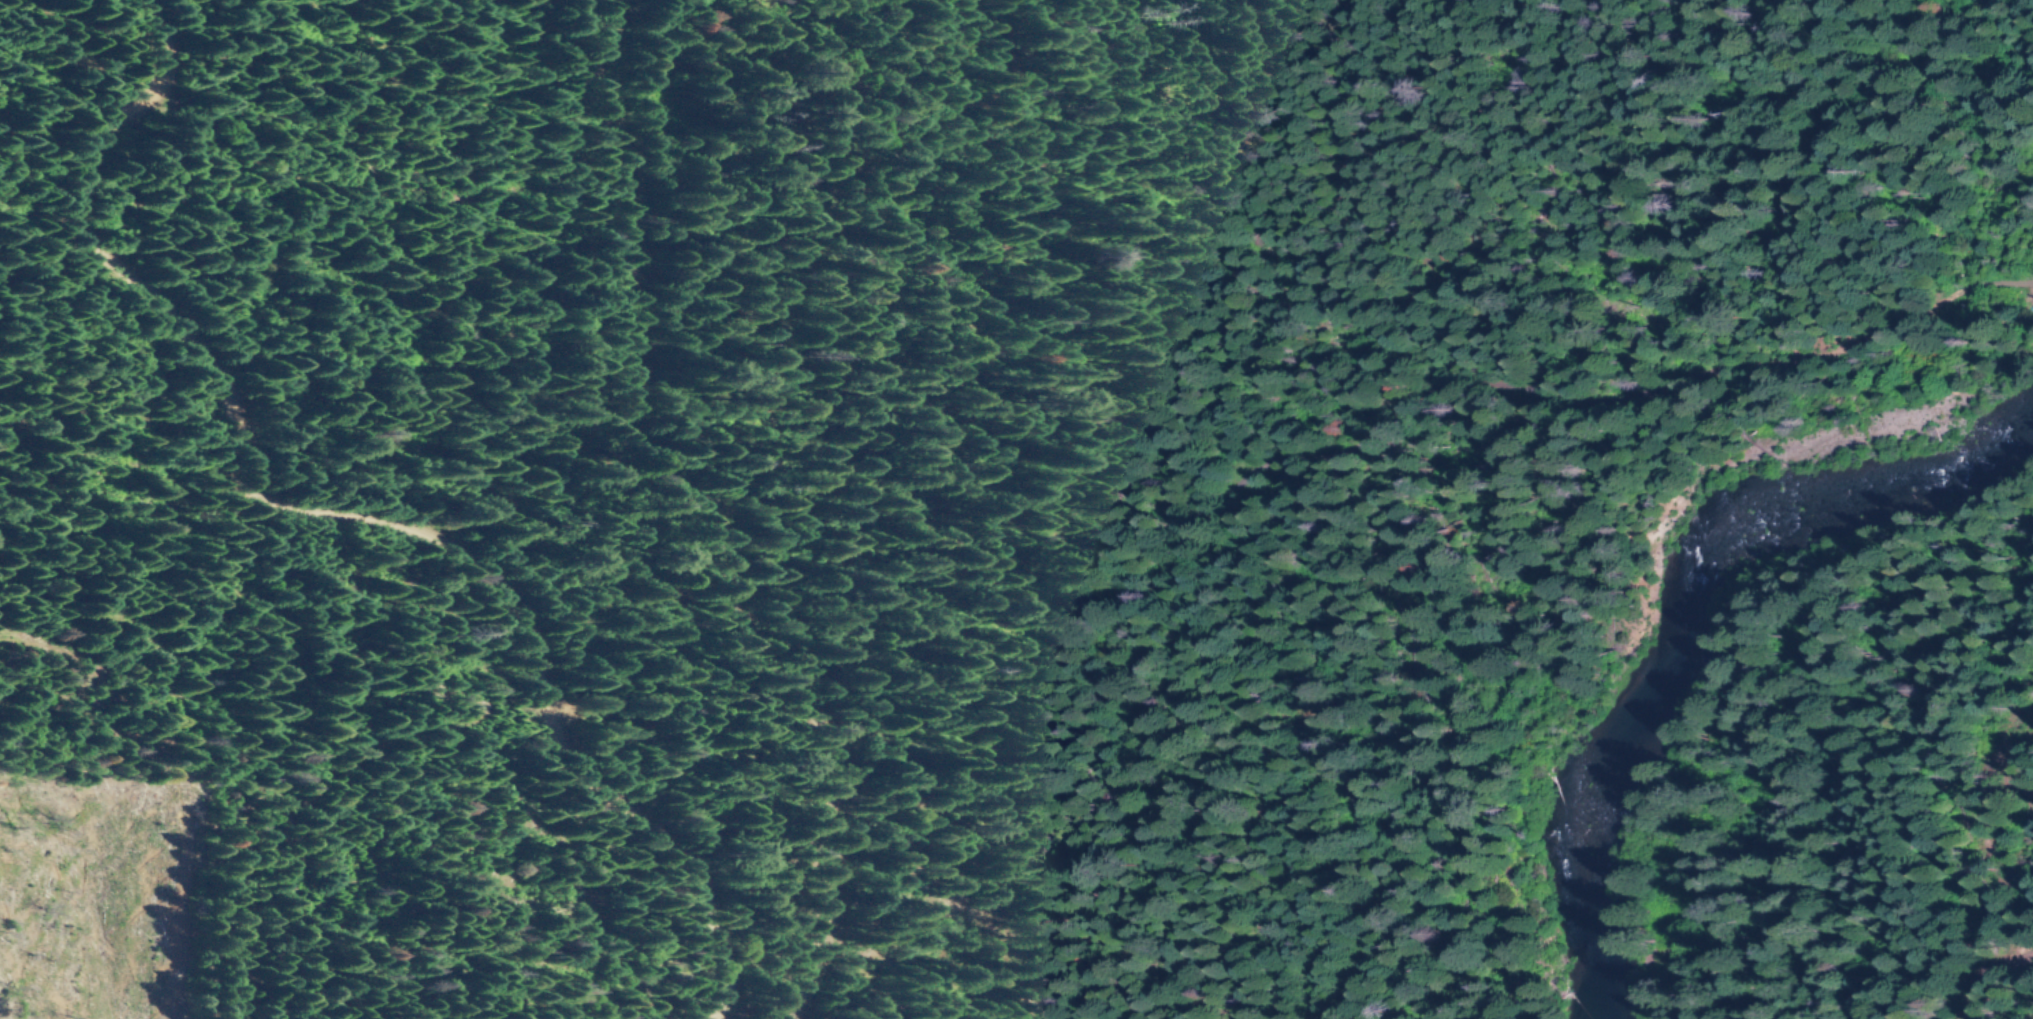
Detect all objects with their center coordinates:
road: (705, 507)
road: (337, 514)
river: (1682, 609)

